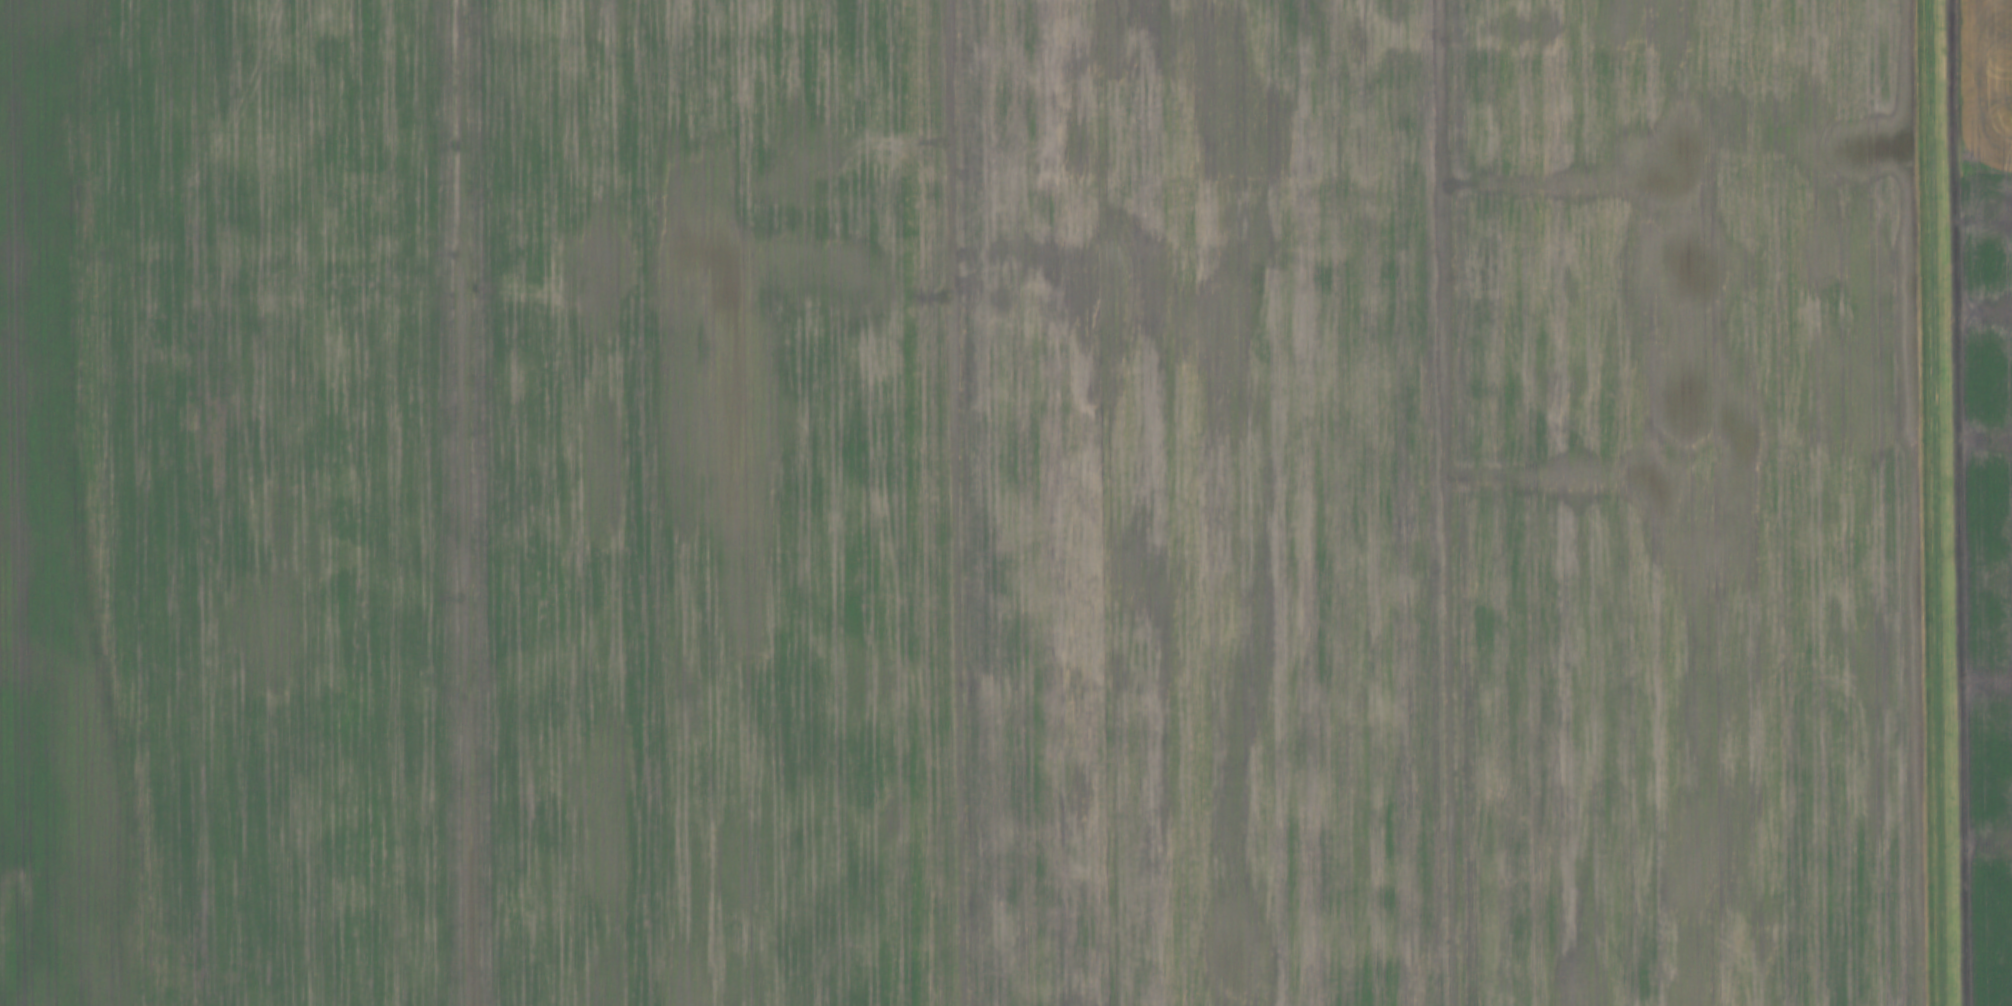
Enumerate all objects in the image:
road: (1937, 503)

